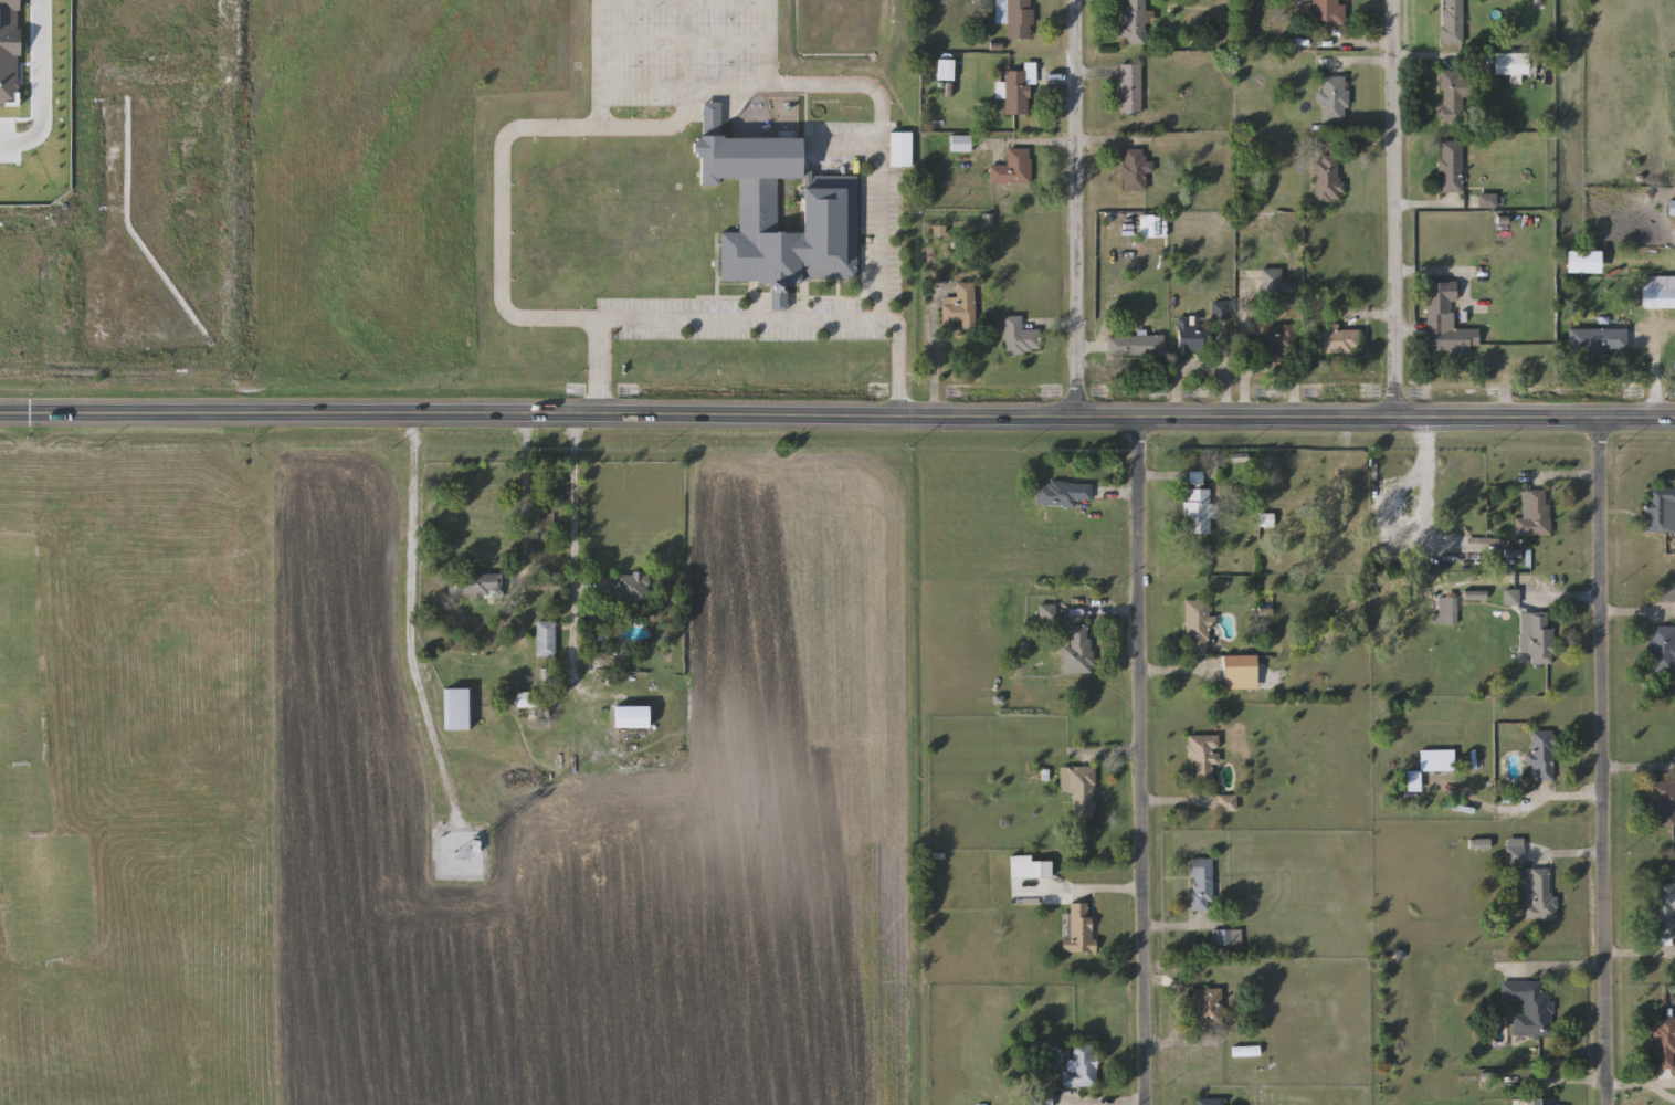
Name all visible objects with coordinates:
building: (1328, 12)
building: (1016, 18)
building: (1135, 22)
building: (1452, 22)
road: (766, 39)
road: (594, 40)
road: (1358, 44)
road: (1419, 57)
road: (1358, 63)
building: (1510, 63)
road: (642, 81)
road: (43, 86)
building: (1131, 88)
building: (1018, 92)
building: (1453, 95)
building: (1335, 98)
road: (656, 125)
road: (1357, 143)
building: (961, 145)
building: (900, 149)
building: (1451, 167)
building: (1013, 169)
building: (1136, 170)
building: (1327, 178)
building: (825, 204)
road: (1430, 206)
road: (1397, 208)
road: (1077, 209)
building: (1672, 209)
building: (1582, 262)
road: (1447, 273)
building: (1275, 284)
building: (1658, 292)
building: (960, 308)
road: (737, 318)
building: (1446, 320)
building: (1020, 337)
building: (1192, 337)
building: (1274, 338)
building: (1595, 339)
building: (1338, 341)
building: (1136, 346)
road: (1244, 346)
road: (896, 360)
road: (931, 362)
road: (598, 367)
road: (1288, 370)
road: (1224, 371)
road: (1655, 373)
road: (1181, 375)
road: (837, 417)
road: (1562, 478)
road: (1177, 480)
building: (1062, 493)
road: (523, 497)
building: (1660, 509)
building: (1199, 511)
building: (1534, 515)
road: (571, 547)
road: (408, 573)
building: (476, 585)
building: (622, 588)
road: (1562, 599)
building: (1451, 610)
building: (1047, 612)
road: (1098, 614)
road: (1633, 615)
building: (1198, 628)
building: (546, 639)
building: (1541, 639)
building: (1663, 649)
building: (1078, 651)
building: (1240, 666)
road: (1198, 674)
building: (527, 701)
building: (457, 708)
building: (630, 716)
road: (1105, 754)
building: (1203, 756)
building: (1542, 756)
building: (1437, 760)
road: (1140, 761)
road: (1600, 761)
road: (1637, 768)
building: (1413, 781)
building: (1079, 793)
road: (1566, 798)
building: (1663, 802)
building: (1228, 803)
road: (1176, 804)
building: (1514, 855)
road: (1563, 856)
building: (1201, 885)
road: (1100, 892)
building: (1536, 894)
building: (1664, 909)
building: (1081, 928)
road: (1179, 929)
building: (1226, 938)
road: (1635, 955)
road: (1561, 967)
road: (1179, 1002)
building: (1208, 1007)
building: (1529, 1007)
building: (1664, 1042)
road: (1180, 1046)
building: (1082, 1067)
road: (1605, 1084)
building: (1209, 1102)
building: (1540, 1102)
road: (1099, 1103)

